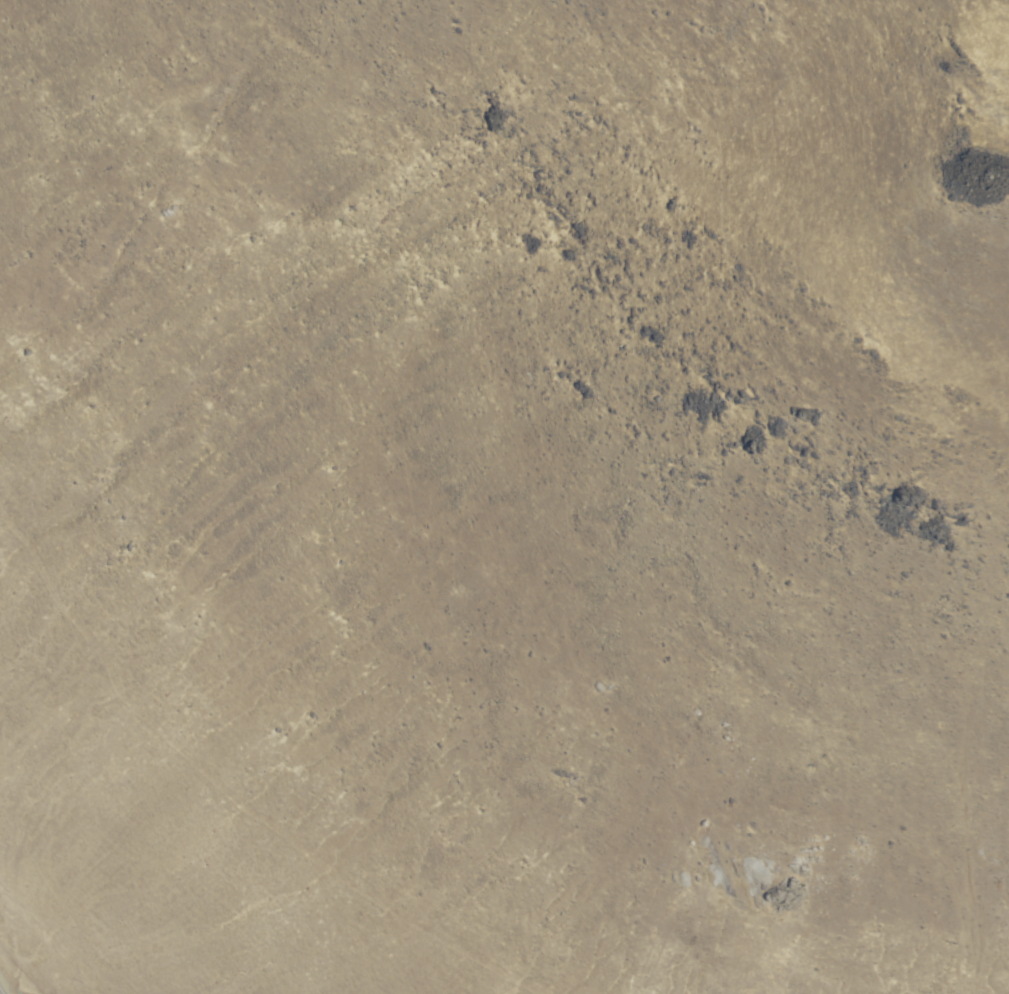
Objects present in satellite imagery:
crop: (291, 827)

